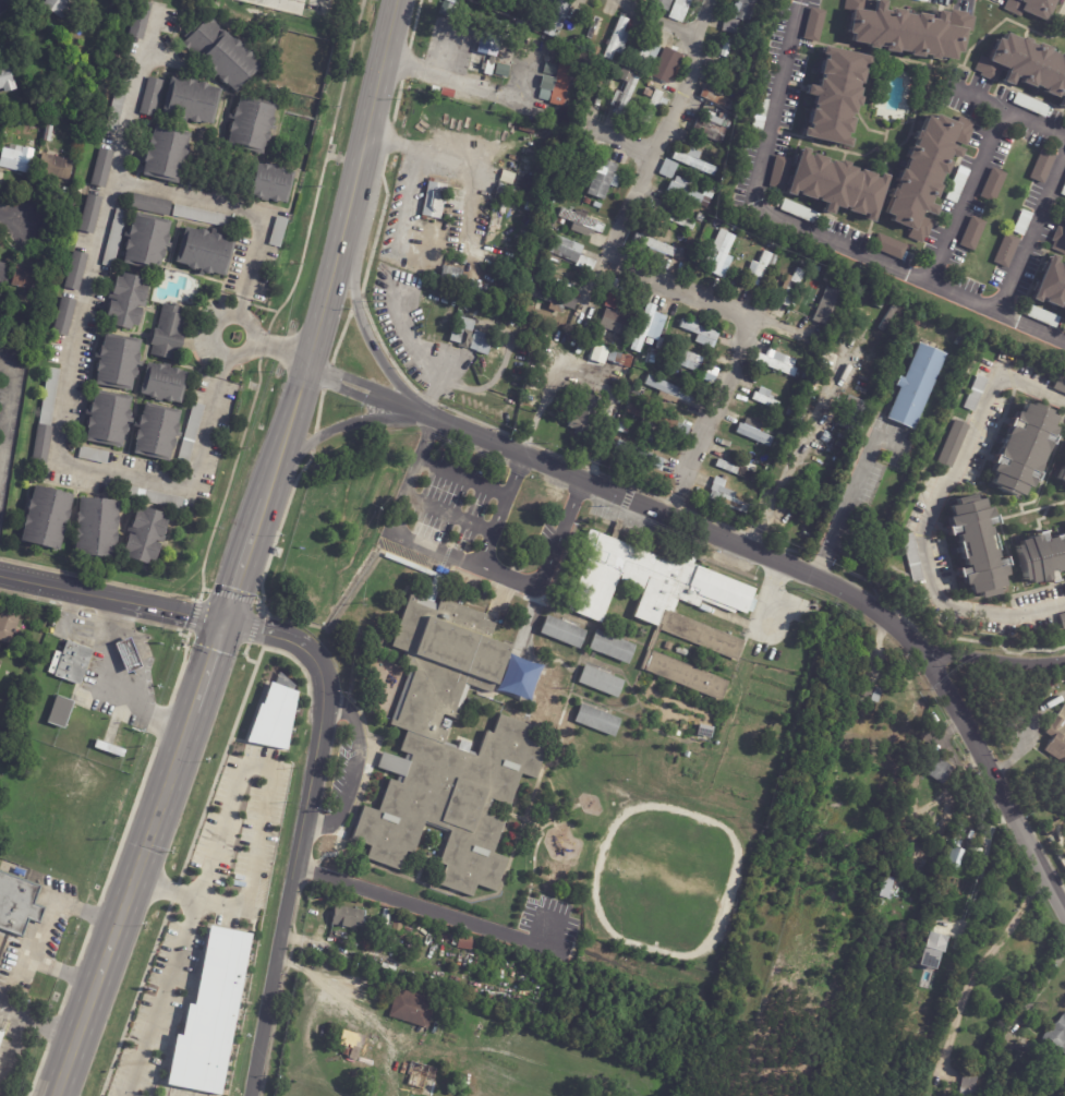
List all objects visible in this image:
road: (1, 0)
building: (919, 0)
road: (285, 1)
building: (658, 4)
building: (60, 8)
building: (1029, 8)
building: (523, 9)
building: (678, 10)
building: (739, 10)
building: (557, 17)
building: (142, 21)
road: (659, 23)
building: (727, 25)
building: (811, 25)
building: (591, 27)
building: (906, 32)
building: (615, 39)
building: (487, 45)
building: (725, 47)
building: (773, 48)
building: (595, 50)
building: (645, 50)
building: (226, 55)
building: (469, 61)
building: (667, 61)
building: (504, 62)
building: (1025, 68)
building: (624, 72)
building: (595, 80)
road: (460, 81)
building: (7, 82)
building: (565, 82)
building: (658, 84)
building: (601, 93)
building: (644, 93)
building: (624, 97)
building: (833, 97)
building: (153, 98)
building: (714, 99)
road: (132, 100)
building: (192, 101)
building: (120, 103)
building: (1028, 105)
building: (649, 109)
building: (757, 117)
building: (15, 120)
road: (1033, 124)
building: (253, 125)
building: (710, 127)
building: (564, 152)
building: (167, 155)
road: (439, 155)
building: (19, 159)
building: (692, 162)
building: (58, 167)
building: (1040, 167)
building: (571, 168)
building: (104, 169)
building: (666, 169)
building: (924, 173)
road: (975, 173)
road: (414, 174)
building: (506, 177)
building: (603, 179)
building: (828, 181)
building: (276, 185)
building: (955, 185)
building: (990, 186)
building: (498, 190)
building: (683, 190)
building: (704, 191)
building: (1064, 191)
building: (509, 194)
building: (431, 201)
building: (586, 201)
building: (706, 204)
building: (150, 205)
building: (597, 205)
building: (796, 212)
building: (92, 215)
road: (15, 218)
building: (204, 218)
building: (699, 218)
building: (677, 219)
building: (577, 220)
building: (1020, 222)
building: (719, 227)
building: (280, 232)
road: (810, 232)
building: (969, 234)
building: (1061, 234)
road: (1032, 236)
building: (138, 242)
building: (757, 243)
road: (339, 245)
building: (652, 245)
building: (886, 246)
building: (564, 250)
building: (1004, 251)
building: (206, 253)
building: (677, 254)
building: (719, 254)
building: (801, 264)
building: (758, 267)
road: (636, 269)
building: (76, 272)
building: (3, 275)
building: (448, 277)
building: (28, 280)
building: (1050, 286)
building: (790, 287)
building: (548, 297)
building: (126, 302)
building: (609, 302)
building: (878, 302)
building: (830, 303)
road: (237, 314)
building: (9, 316)
building: (1039, 316)
building: (64, 317)
building: (887, 317)
building: (1064, 320)
building: (614, 323)
road: (80, 326)
building: (642, 329)
road: (364, 330)
building: (169, 333)
building: (698, 334)
building: (470, 337)
building: (960, 339)
building: (595, 340)
building: (652, 340)
road: (268, 351)
road: (225, 354)
road: (422, 358)
building: (683, 358)
building: (618, 360)
building: (775, 362)
building: (118, 363)
building: (707, 373)
building: (803, 376)
road: (361, 382)
building: (165, 384)
building: (913, 386)
building: (1060, 386)
building: (665, 389)
building: (632, 390)
road: (9, 392)
building: (975, 394)
road: (355, 395)
building: (764, 398)
building: (584, 413)
building: (848, 415)
building: (46, 419)
building: (109, 421)
building: (657, 421)
road: (2, 423)
road: (340, 426)
building: (157, 433)
building: (753, 433)
building: (193, 434)
road: (2, 442)
building: (952, 443)
building: (1021, 448)
road: (800, 450)
building: (637, 454)
building: (95, 456)
building: (733, 468)
building: (1062, 474)
road: (462, 480)
building: (723, 480)
parking lot: (447, 497)
building: (156, 499)
building: (724, 501)
road: (676, 502)
road: (843, 508)
road: (499, 510)
road: (934, 514)
road: (448, 515)
building: (48, 518)
building: (97, 529)
building: (145, 537)
parking lot: (543, 539)
building: (976, 546)
road: (246, 554)
railway: (257, 555)
building: (1041, 557)
building: (911, 558)
road: (462, 563)
road: (810, 574)
building: (657, 592)
road: (112, 598)
traffic signals: (226, 621)
building: (1062, 623)
building: (9, 624)
building: (564, 631)
road: (755, 634)
building: (613, 646)
building: (682, 651)
building: (125, 654)
road: (991, 654)
building: (0, 655)
building: (73, 663)
road: (209, 666)
building: (686, 675)
building: (602, 681)
building: (1053, 682)
road: (112, 684)
building: (550, 690)
building: (866, 690)
building: (848, 698)
building: (61, 712)
building: (275, 716)
building: (600, 720)
building: (707, 734)
building: (1056, 737)
building: (2, 743)
building: (111, 749)
building: (448, 749)
building: (933, 768)
road: (351, 772)
road: (270, 781)
road: (301, 827)
building: (961, 830)
building: (860, 834)
building: (952, 855)
road: (981, 868)
road: (166, 887)
building: (884, 888)
road: (123, 903)
building: (17, 905)
road: (431, 912)
building: (348, 917)
building: (400, 924)
parking lot: (547, 926)
road: (43, 929)
building: (386, 930)
building: (446, 935)
building: (470, 942)
building: (930, 950)
road: (979, 964)
road: (1036, 986)
road: (358, 990)
road: (160, 997)
building: (415, 1009)
building: (213, 1016)
road: (49, 1027)
building: (0, 1031)
building: (1057, 1033)
road: (15, 1036)
building: (1, 1039)
building: (350, 1043)
building: (421, 1074)
building: (965, 1089)

